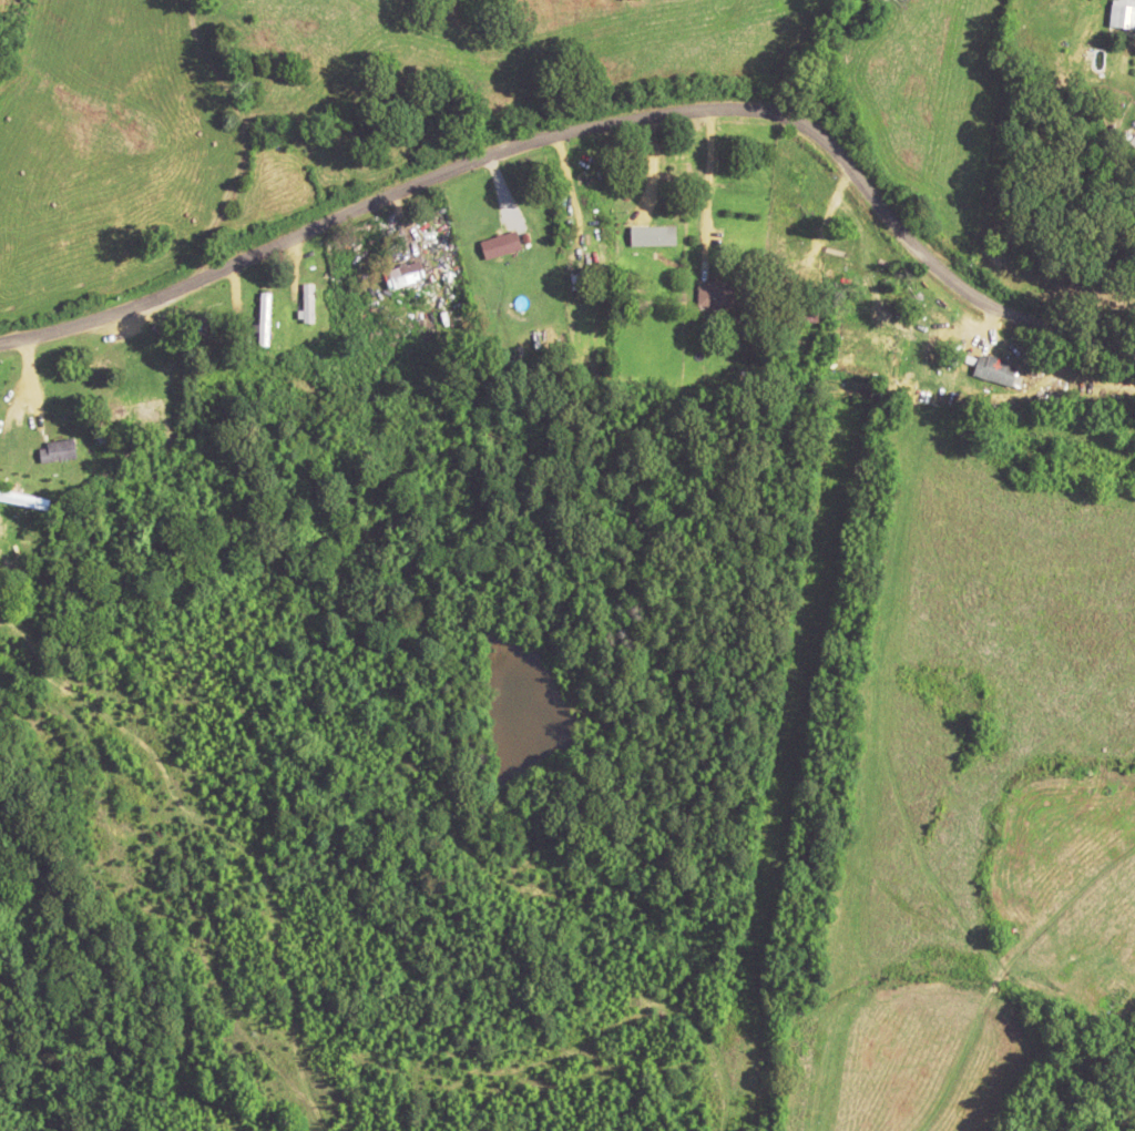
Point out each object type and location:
building: (1122, 13)
building: (267, 128)
road: (576, 132)
building: (648, 234)
building: (500, 244)
building: (593, 271)
building: (403, 275)
building: (716, 292)
building: (307, 302)
building: (805, 316)
road: (573, 360)
building: (994, 369)
building: (136, 406)
building: (57, 450)

